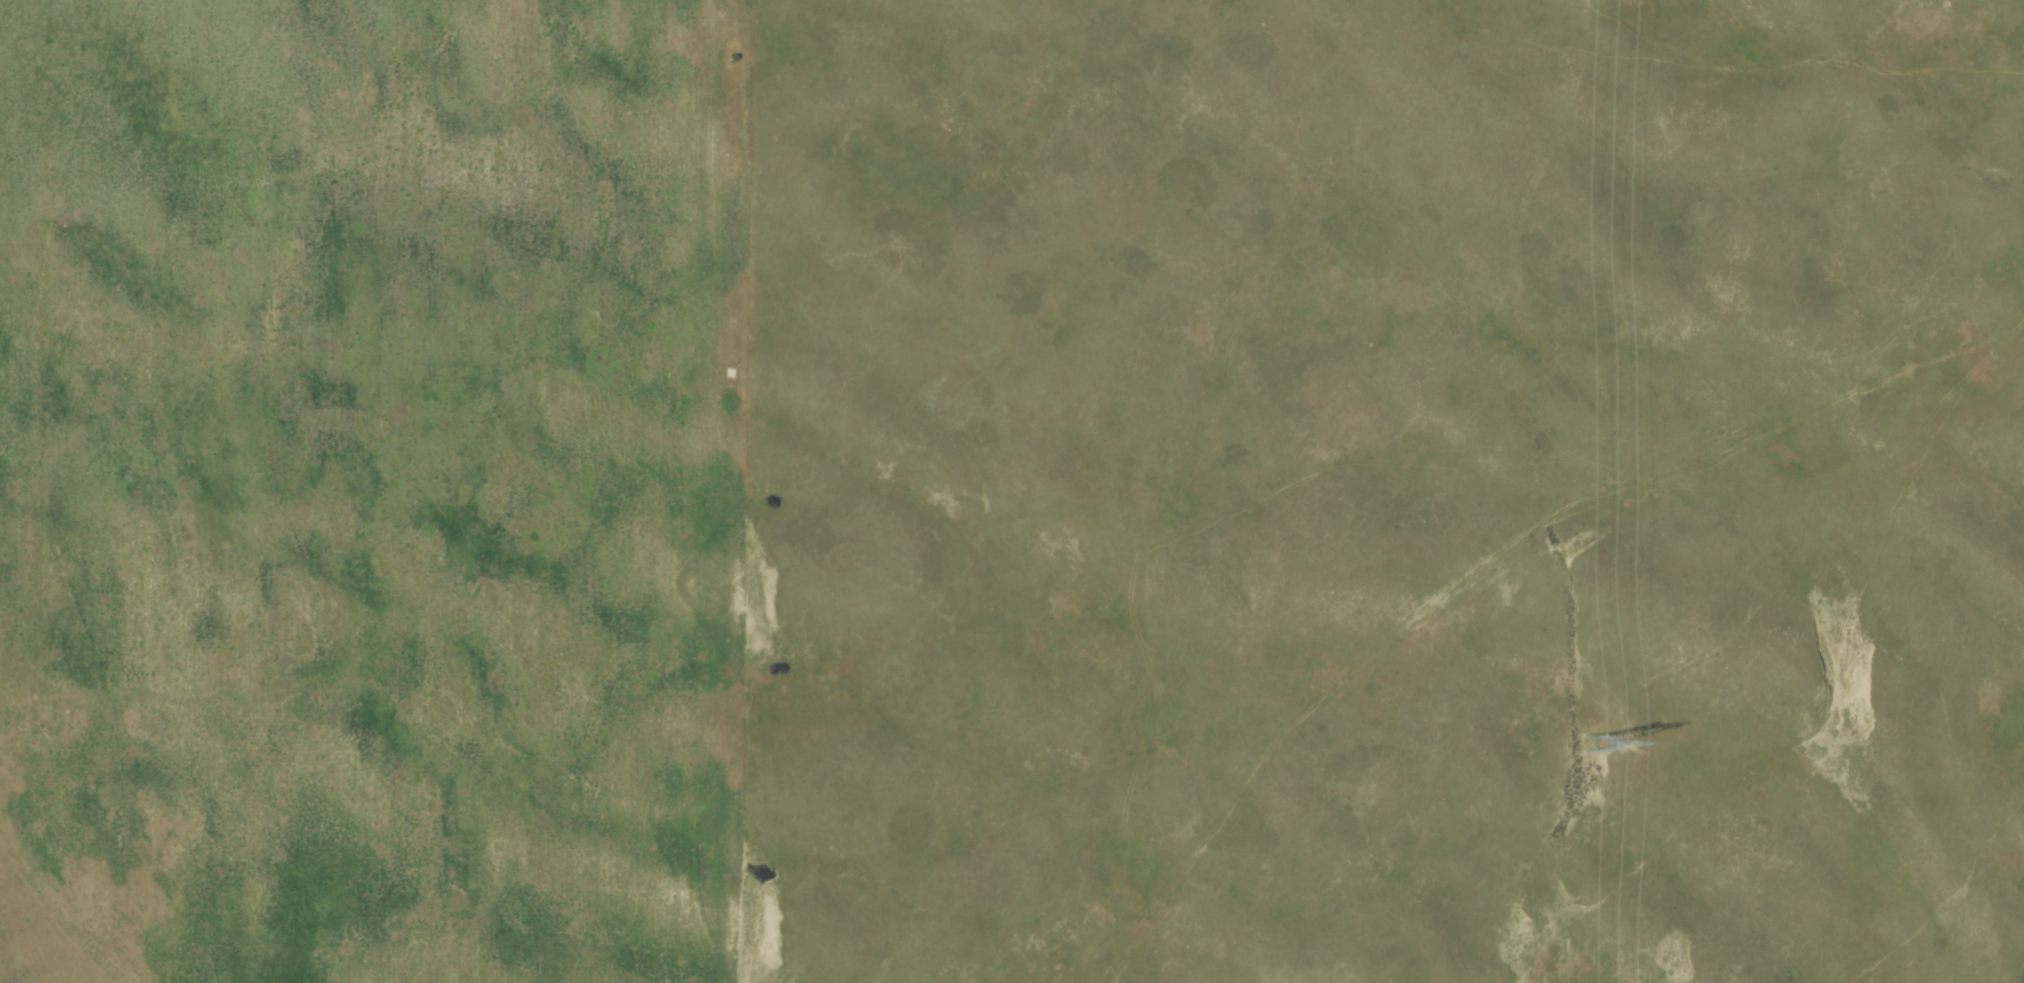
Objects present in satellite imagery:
power tower: (1598, 742)

